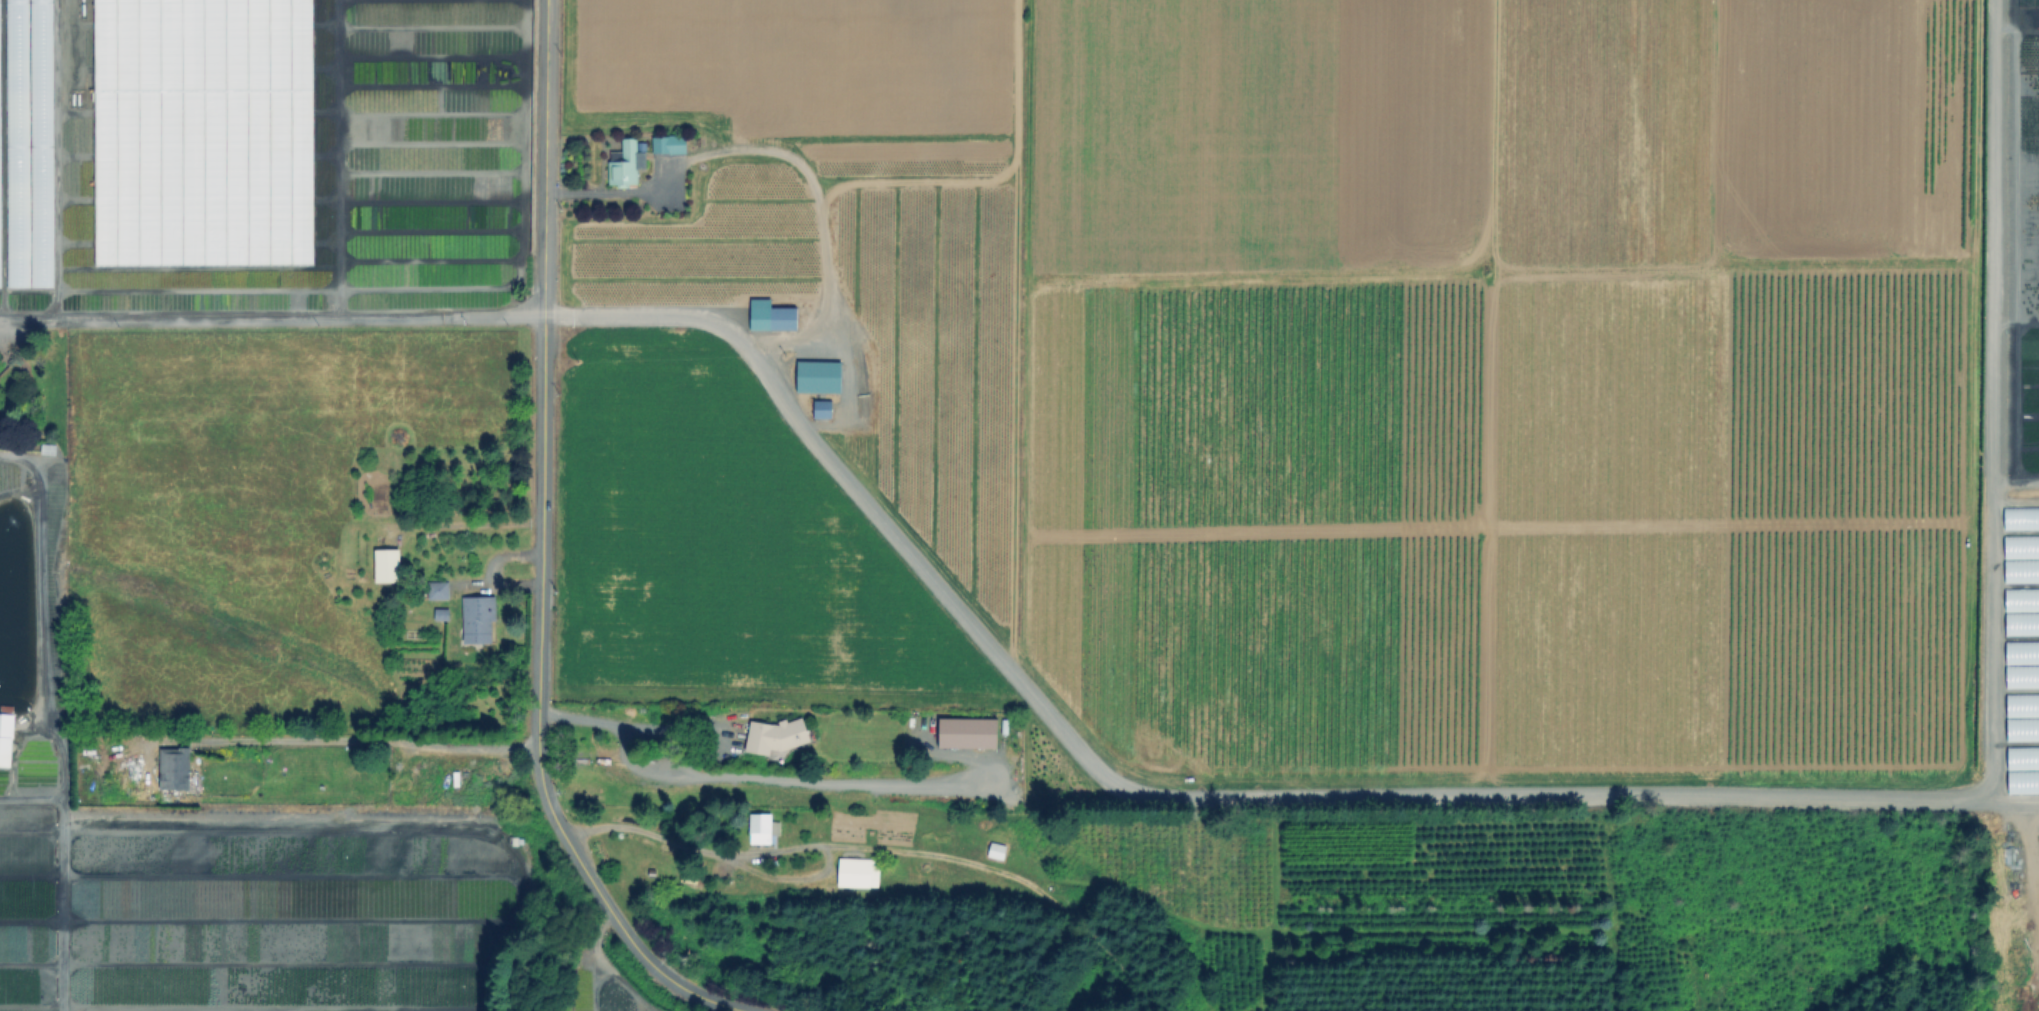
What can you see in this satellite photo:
building: (673, 145)
building: (627, 167)
building: (24, 169)
road: (606, 195)
road: (272, 317)
building: (774, 318)
building: (821, 379)
crop: (1282, 408)
building: (825, 411)
building: (2020, 517)
building: (2020, 546)
road: (542, 550)
building: (389, 567)
building: (2020, 570)
building: (441, 592)
building: (2021, 598)
building: (443, 615)
building: (480, 618)
building: (2018, 677)
building: (2021, 704)
road: (668, 727)
building: (968, 729)
building: (2021, 730)
building: (776, 737)
building: (6, 739)
road: (327, 739)
building: (176, 770)
road: (750, 779)
road: (1554, 794)
road: (2011, 806)
building: (765, 828)
building: (997, 850)
road: (753, 872)
building: (859, 873)
road: (611, 970)

